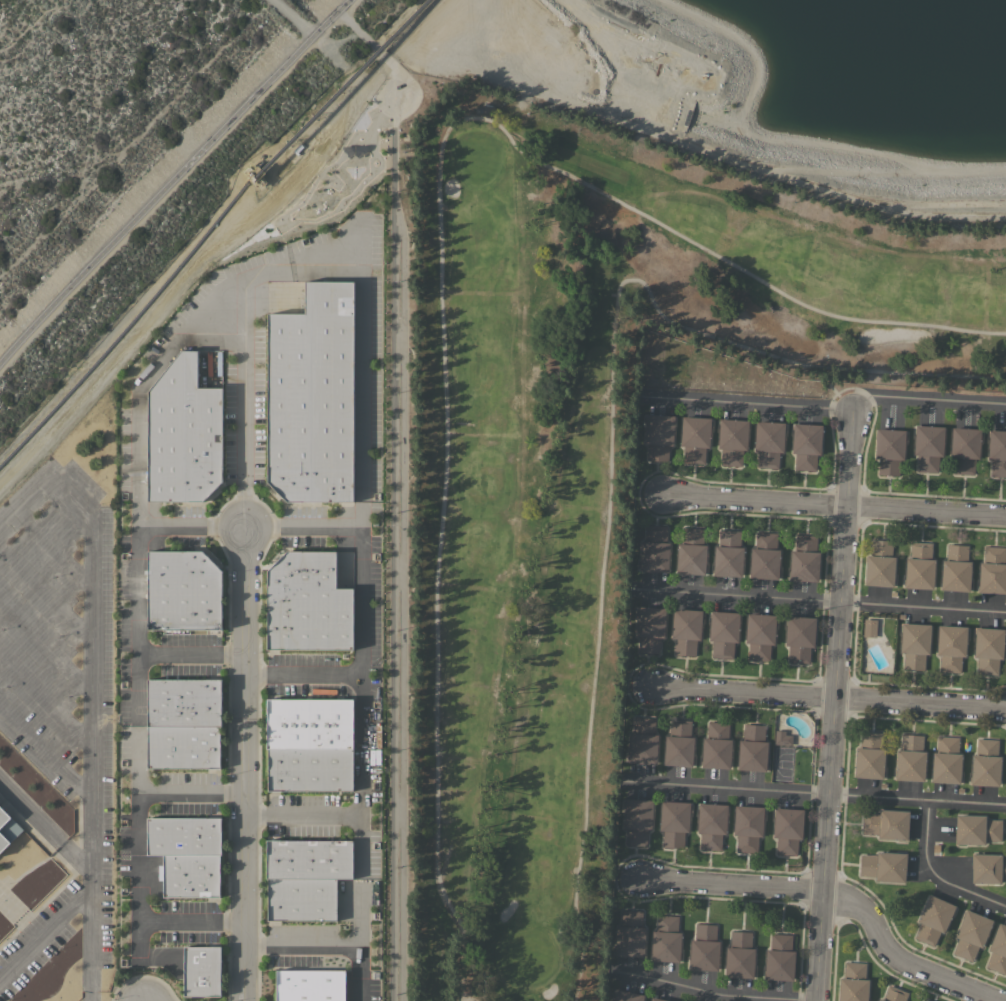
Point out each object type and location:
road: (341, 5)
road: (395, 105)
road: (699, 144)
road: (166, 183)
road: (440, 255)
road: (146, 374)
building: (312, 396)
road: (926, 399)
road: (744, 403)
road: (243, 404)
road: (610, 433)
building: (183, 434)
building: (658, 435)
building: (695, 438)
building: (732, 440)
building: (768, 442)
building: (806, 445)
building: (928, 447)
building: (964, 449)
building: (889, 450)
building: (997, 451)
park: (593, 472)
road: (835, 505)
road: (191, 526)
road: (53, 548)
building: (654, 549)
building: (691, 551)
building: (728, 554)
building: (764, 556)
building: (804, 558)
building: (879, 564)
building: (919, 566)
building: (955, 568)
building: (993, 570)
building: (182, 590)
road: (46, 591)
road: (91, 592)
road: (817, 600)
building: (307, 603)
road: (398, 613)
building: (869, 627)
building: (649, 628)
building: (686, 630)
building: (723, 633)
building: (759, 635)
building: (799, 638)
road: (46, 643)
building: (914, 644)
building: (951, 647)
building: (988, 649)
road: (191, 653)
road: (302, 672)
parking lot: (60, 687)
road: (831, 699)
road: (46, 701)
building: (184, 702)
road: (832, 705)
building: (308, 723)
building: (782, 738)
building: (642, 742)
building: (678, 743)
building: (716, 746)
building: (183, 747)
building: (752, 748)
road: (46, 750)
building: (868, 756)
building: (910, 759)
building: (946, 761)
building: (985, 763)
road: (245, 764)
building: (309, 769)
road: (192, 792)
road: (821, 793)
road: (361, 795)
road: (303, 814)
building: (637, 820)
building: (674, 822)
building: (886, 824)
building: (711, 825)
building: (747, 827)
building: (7, 829)
building: (976, 829)
building: (787, 830)
building: (183, 835)
road: (92, 837)
building: (308, 859)
building: (883, 866)
building: (988, 868)
road: (89, 872)
building: (190, 875)
road: (934, 875)
road: (835, 894)
building: (301, 899)
building: (933, 919)
road: (46, 924)
building: (3, 926)
building: (630, 934)
building: (970, 934)
building: (666, 939)
building: (704, 948)
road: (145, 949)
building: (998, 949)
building: (739, 955)
building: (779, 958)
building: (201, 971)
building: (853, 982)
building: (309, 985)
building: (894, 994)
road: (718, 995)
building: (627, 996)
road: (473, 998)
road: (462, 999)
building: (658, 999)
building: (922, 1000)
building: (924, 1000)

